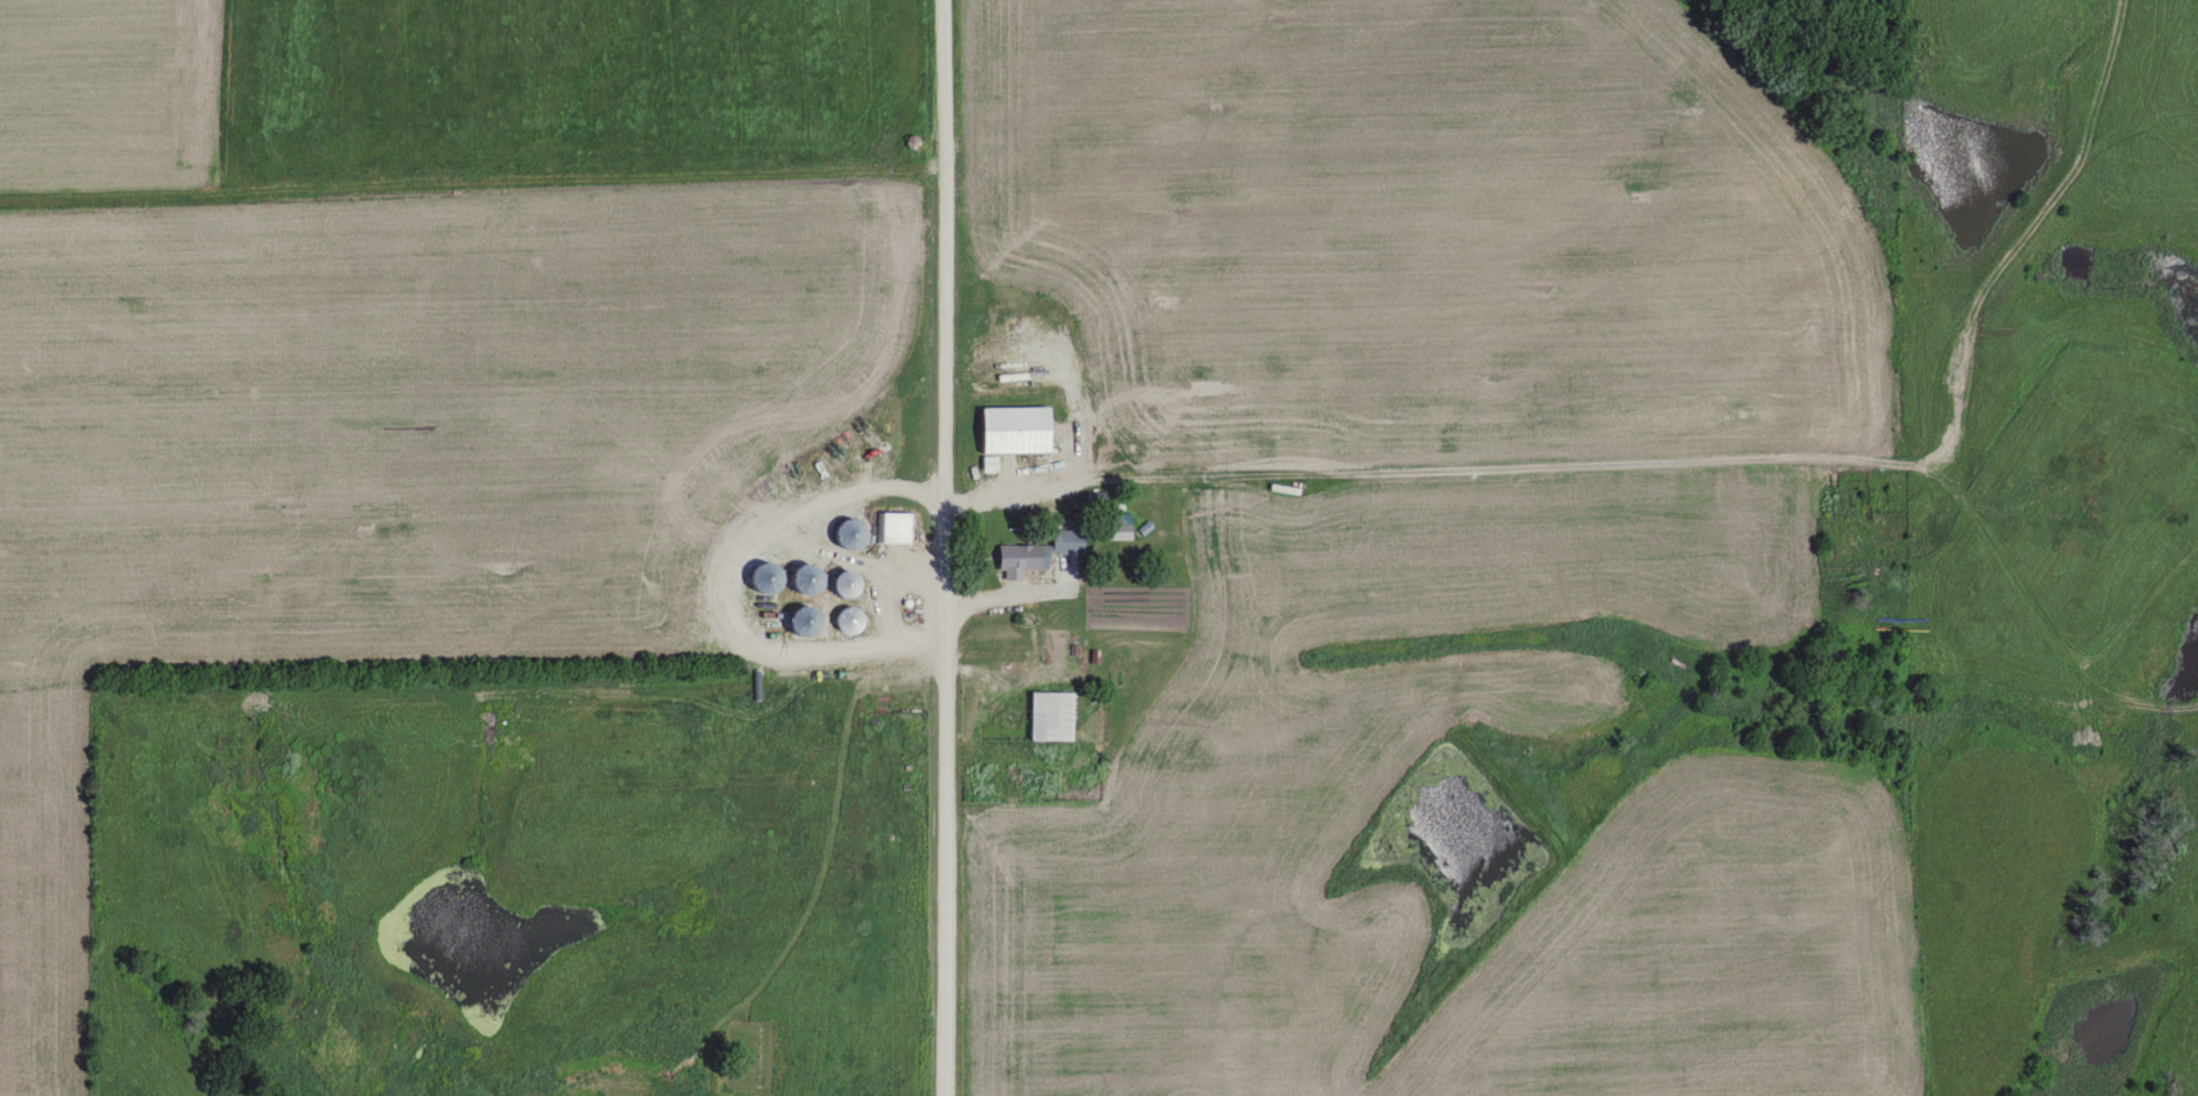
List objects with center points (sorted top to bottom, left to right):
building: (1008, 429)
road: (1013, 487)
building: (891, 527)
building: (842, 533)
road: (942, 547)
building: (1033, 551)
building: (757, 577)
building: (797, 578)
building: (838, 583)
building: (842, 619)
building: (796, 621)
building: (1050, 652)
building: (1045, 715)
building: (1249, 1053)
park: (744, 1057)

